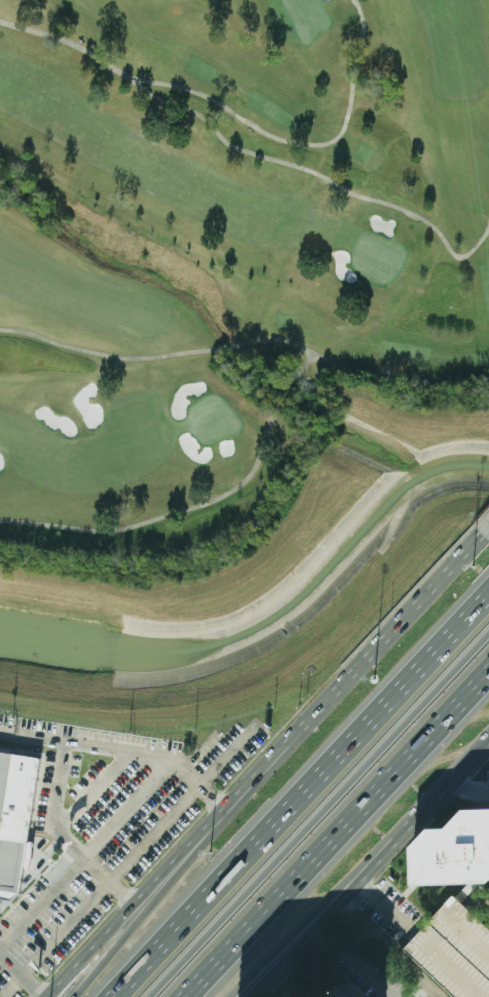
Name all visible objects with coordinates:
park: (223, 248)
road: (487, 523)
river: (269, 618)
road: (357, 667)
road: (123, 746)
road: (95, 788)
road: (301, 798)
road: (129, 805)
road: (318, 815)
building: (15, 819)
road: (54, 821)
road: (409, 825)
road: (341, 837)
building: (454, 850)
road: (124, 889)
road: (101, 890)
road: (178, 893)
road: (135, 900)
road: (42, 901)
road: (391, 947)
road: (281, 953)
road: (288, 953)
road: (24, 973)
road: (424, 990)

